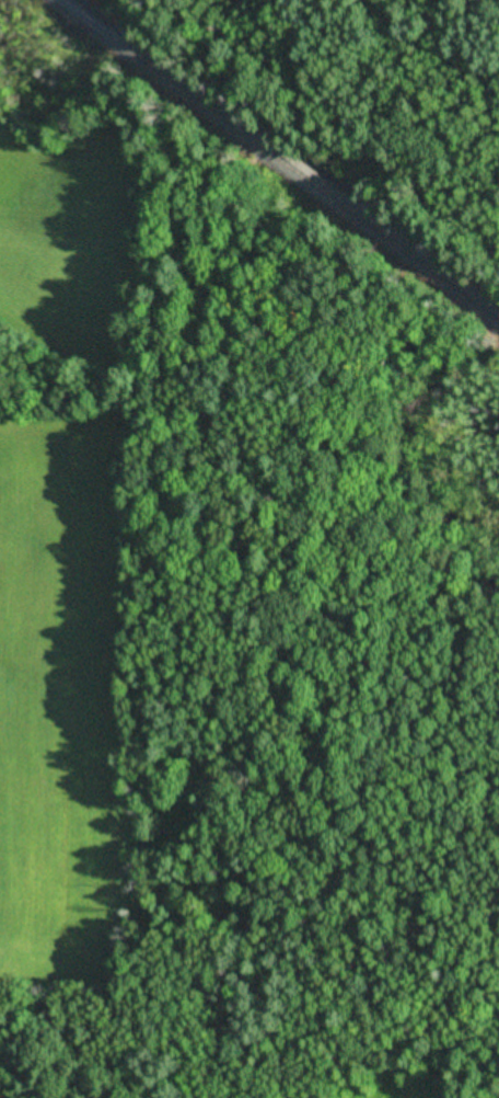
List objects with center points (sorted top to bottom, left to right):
railway: (280, 161)

